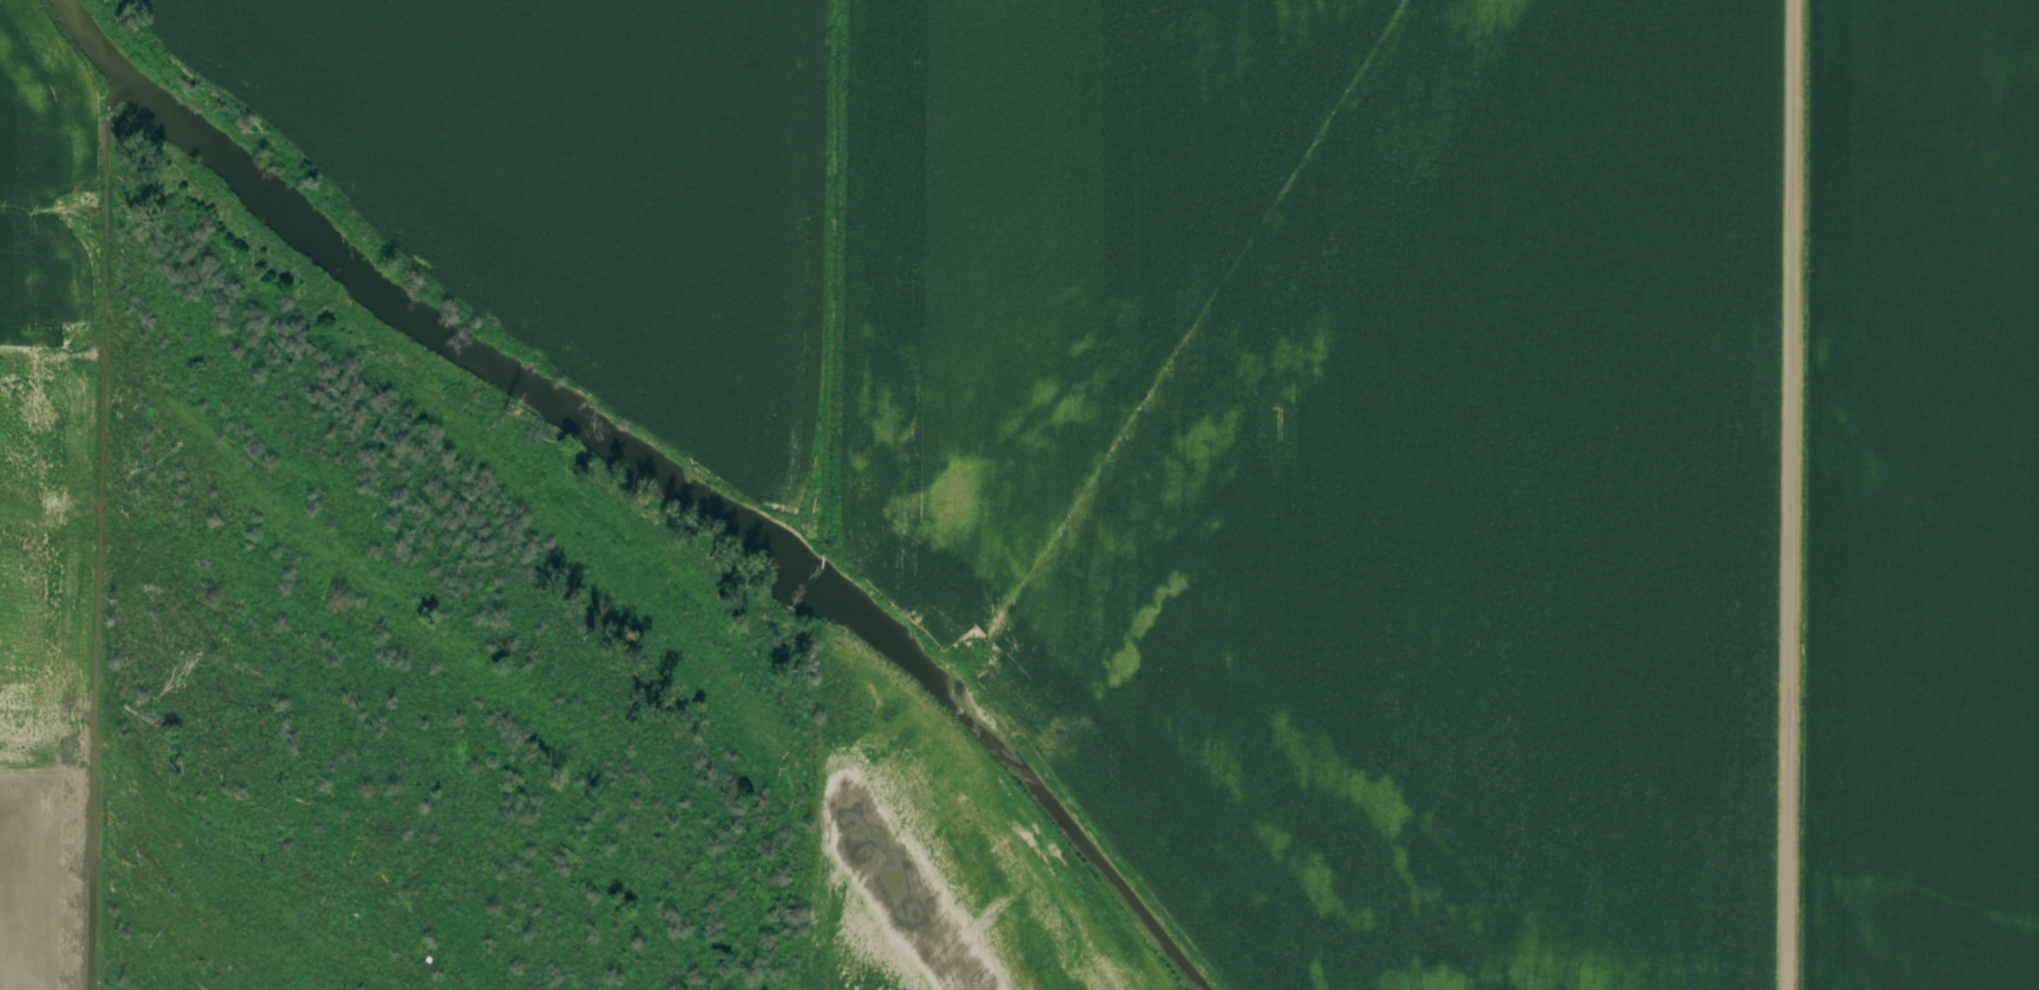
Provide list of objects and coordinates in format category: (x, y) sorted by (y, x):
road: (1794, 495)

